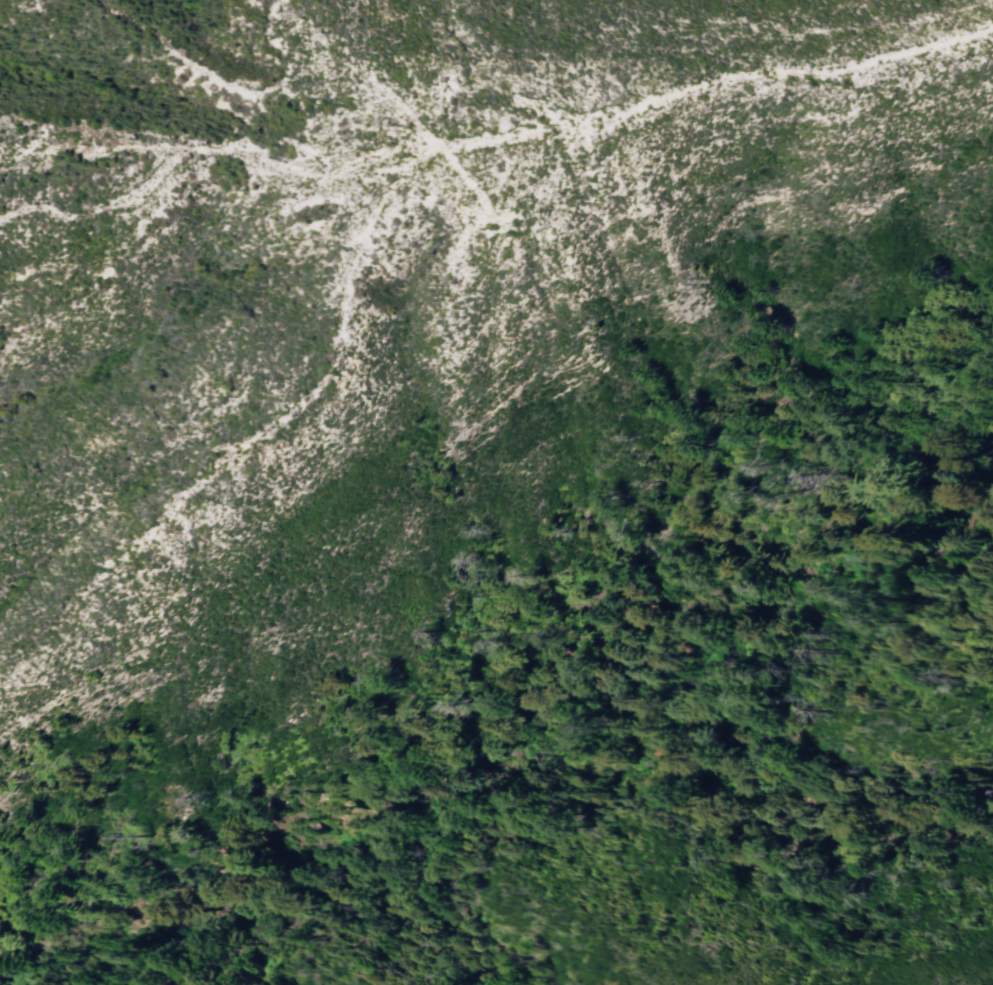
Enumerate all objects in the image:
road: (187, 63)
road: (365, 73)
road: (84, 134)
road: (484, 142)
road: (9, 155)
road: (9, 159)
road: (303, 401)

